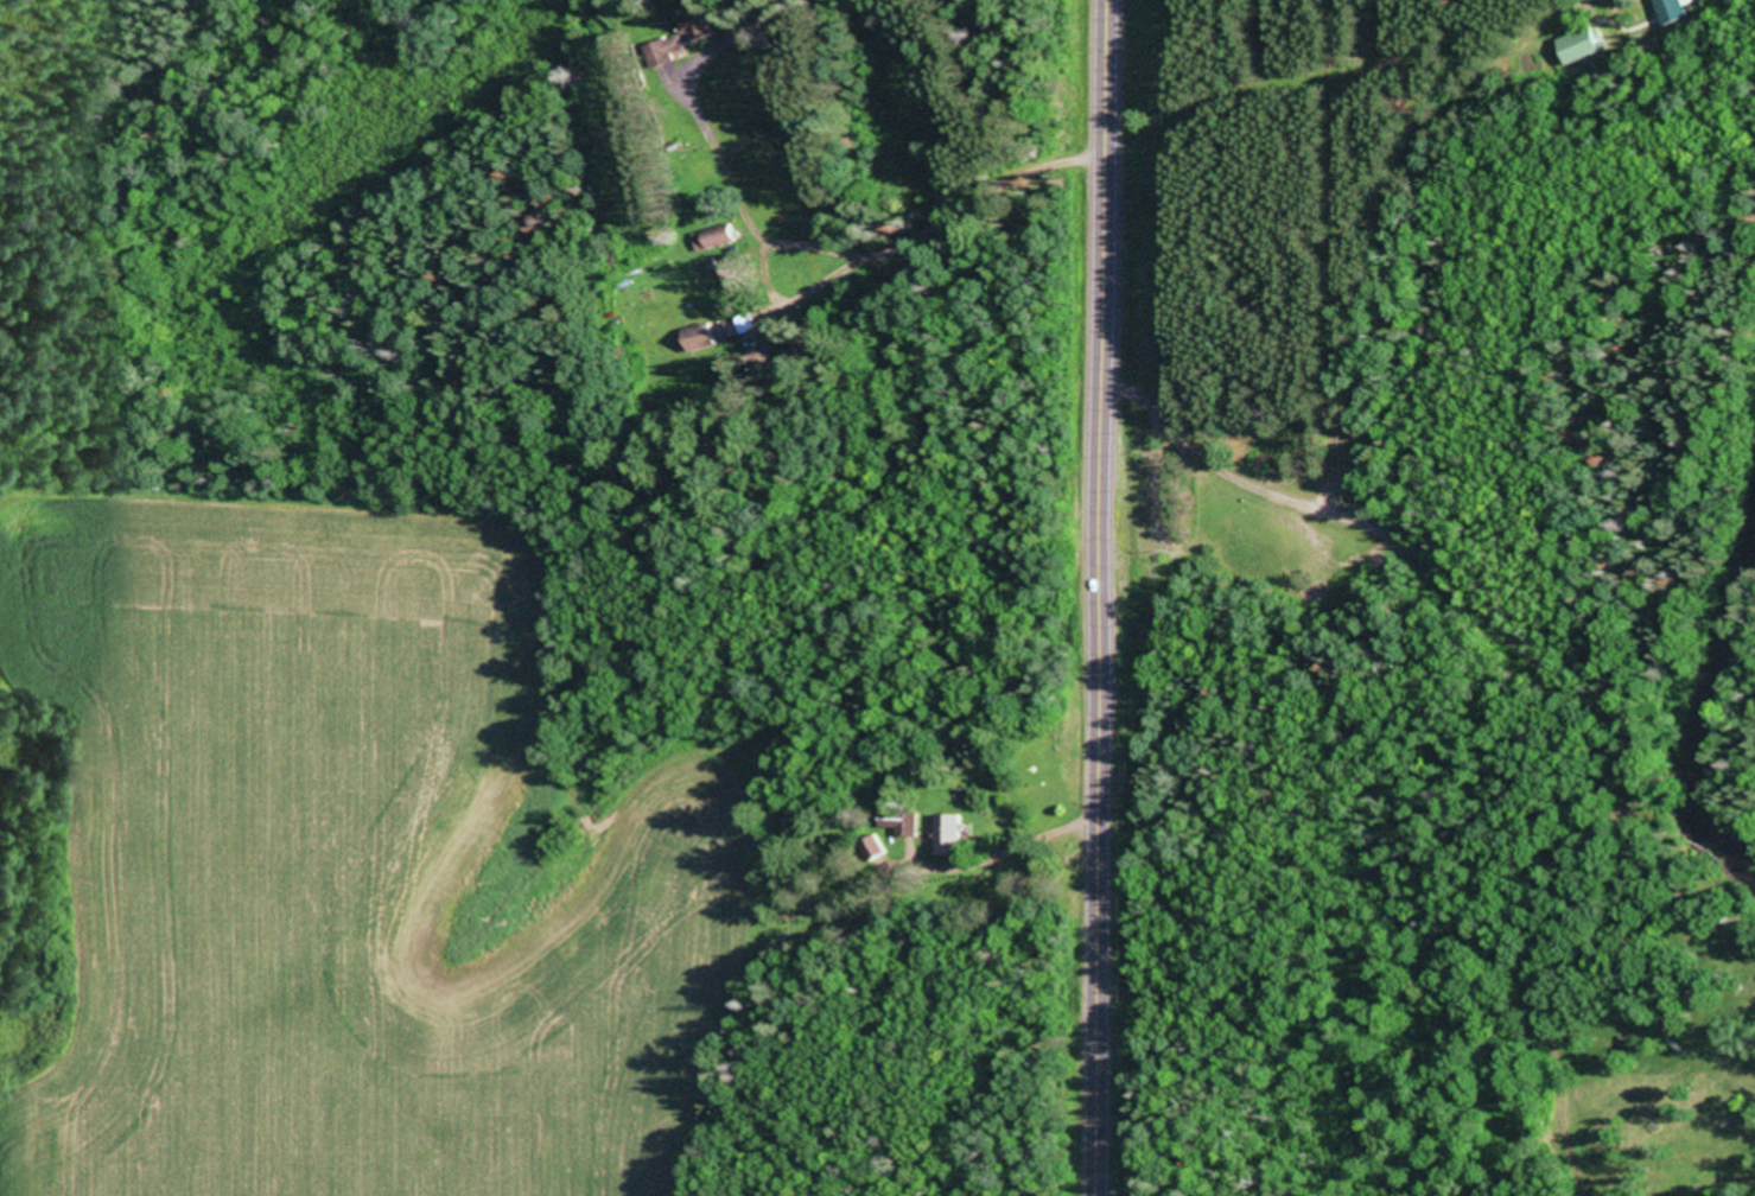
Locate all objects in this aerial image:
building: (1675, 8)
building: (700, 17)
building: (679, 40)
building: (1587, 42)
building: (721, 233)
road: (829, 259)
building: (708, 333)
road: (1096, 597)
river: (1697, 687)
building: (956, 832)
park: (1228, 1169)

